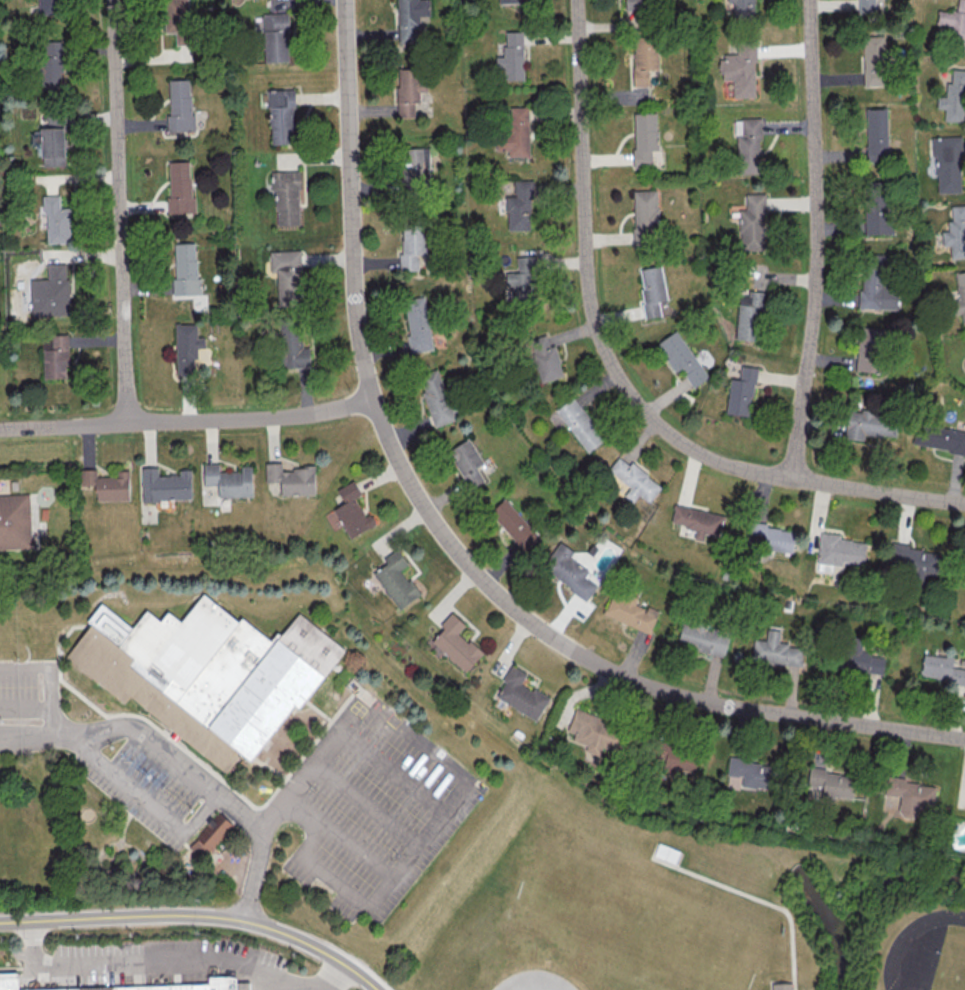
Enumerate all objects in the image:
building: (636, 4)
building: (50, 6)
building: (280, 6)
building: (866, 6)
building: (743, 9)
building: (410, 19)
building: (179, 21)
building: (954, 25)
building: (277, 36)
building: (512, 56)
building: (644, 57)
building: (873, 60)
building: (50, 65)
building: (740, 70)
building: (409, 89)
building: (954, 97)
building: (182, 107)
building: (281, 115)
building: (515, 130)
building: (876, 134)
building: (644, 137)
building: (56, 143)
building: (747, 145)
building: (947, 164)
building: (415, 171)
building: (182, 185)
building: (287, 196)
building: (518, 207)
road: (120, 211)
building: (645, 216)
building: (878, 216)
building: (58, 218)
building: (752, 223)
building: (955, 232)
road: (818, 239)
building: (412, 248)
building: (185, 269)
building: (288, 274)
building: (522, 280)
building: (652, 289)
building: (879, 290)
building: (51, 291)
building: (960, 295)
building: (749, 316)
building: (418, 323)
building: (188, 347)
building: (293, 349)
building: (869, 349)
building: (54, 355)
building: (681, 357)
building: (544, 358)
road: (619, 377)
building: (741, 392)
building: (436, 397)
road: (187, 420)
building: (579, 424)
building: (869, 424)
building: (939, 438)
building: (467, 462)
building: (291, 478)
building: (229, 480)
building: (634, 480)
building: (106, 484)
building: (165, 484)
building: (351, 511)
building: (697, 519)
building: (15, 523)
building: (514, 524)
building: (775, 536)
road: (451, 544)
building: (838, 551)
building: (913, 560)
building: (568, 570)
building: (395, 579)
building: (631, 612)
building: (702, 639)
building: (456, 643)
building: (775, 650)
building: (860, 659)
building: (941, 668)
road: (51, 674)
building: (205, 674)
building: (521, 694)
road: (27, 711)
building: (594, 733)
building: (677, 761)
road: (184, 768)
road: (397, 772)
building: (751, 772)
building: (832, 782)
building: (912, 797)
road: (144, 798)
road: (452, 803)
road: (370, 806)
building: (211, 835)
road: (360, 853)
building: (665, 856)
road: (768, 905)
road: (197, 916)
park: (626, 929)
park: (559, 954)
park: (928, 954)
road: (148, 961)
parking lot: (175, 964)
park: (953, 964)
road: (333, 977)
building: (9, 982)
building: (182, 986)
road: (331, 987)
building: (782, 987)

